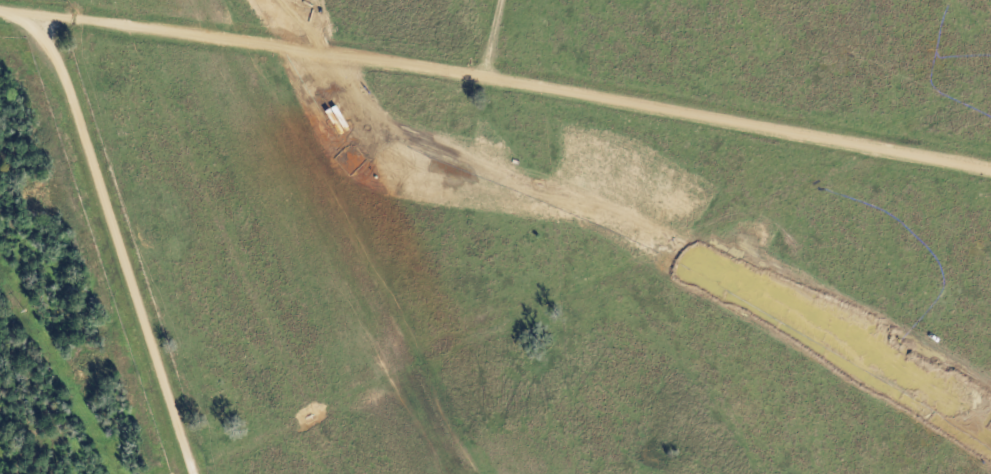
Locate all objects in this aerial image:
road: (494, 37)
road: (497, 76)
road: (115, 244)

